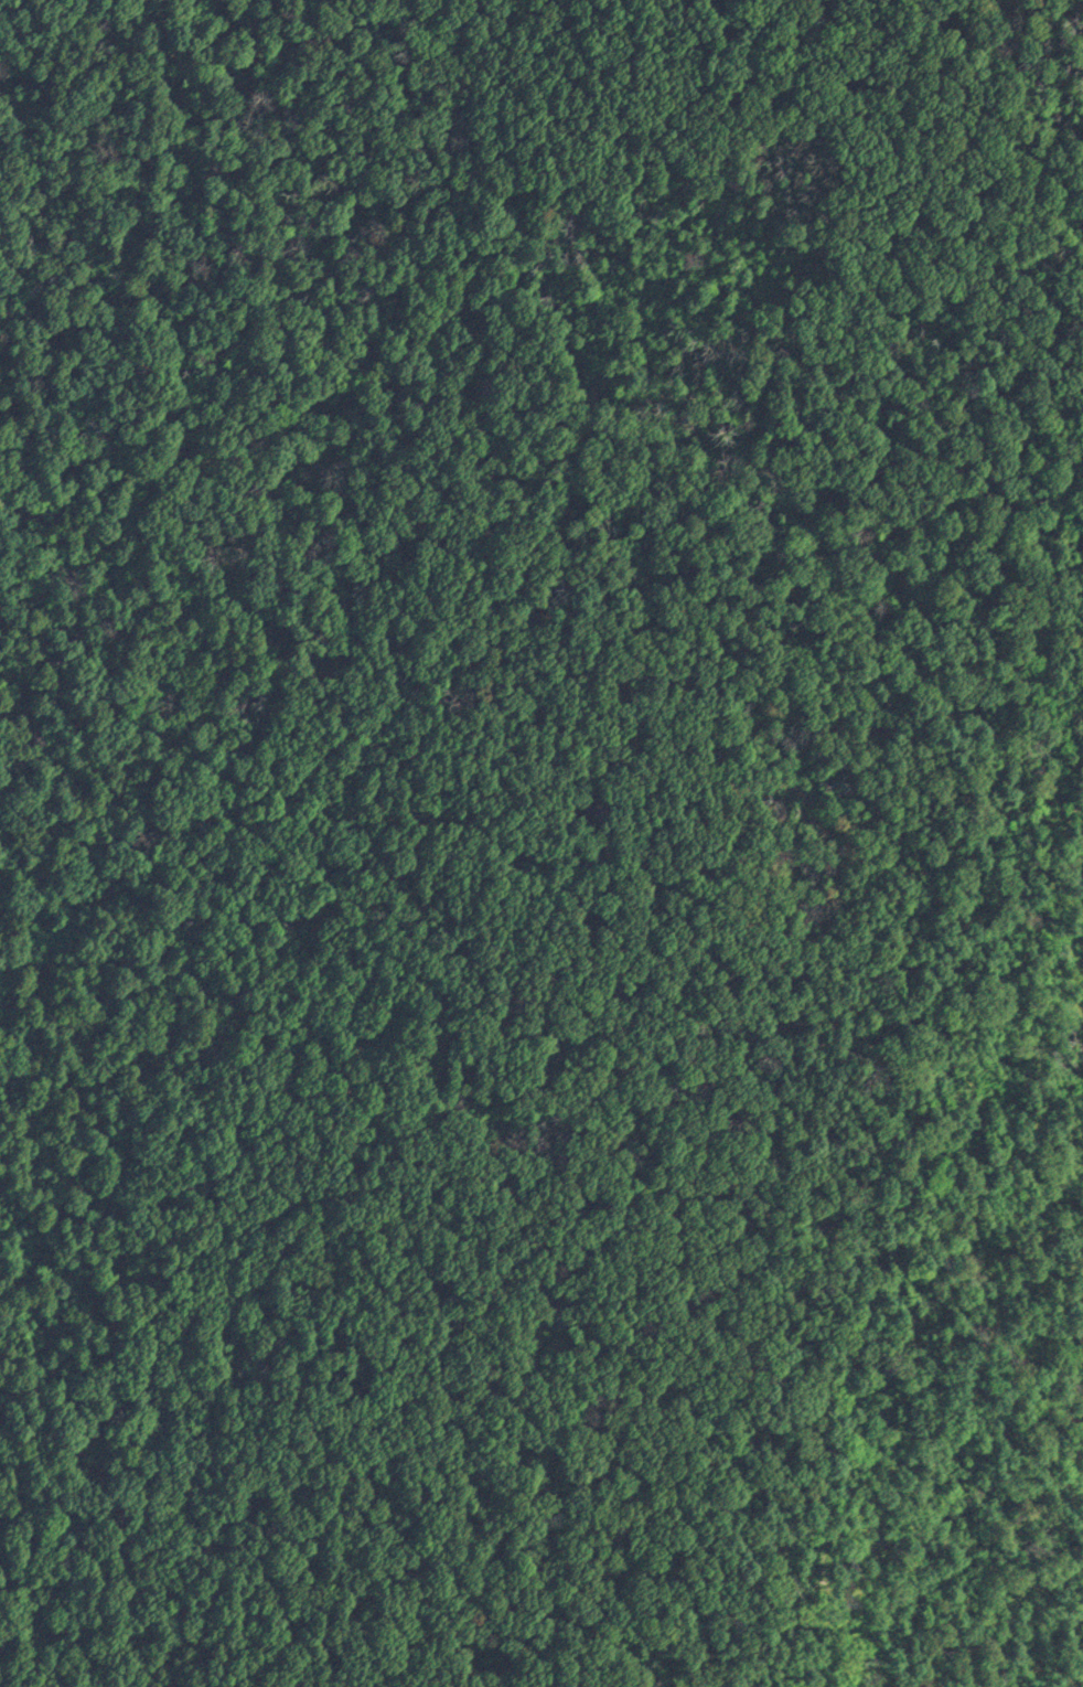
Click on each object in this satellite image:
road: (1047, 1311)
road: (994, 1520)
road: (951, 1656)

